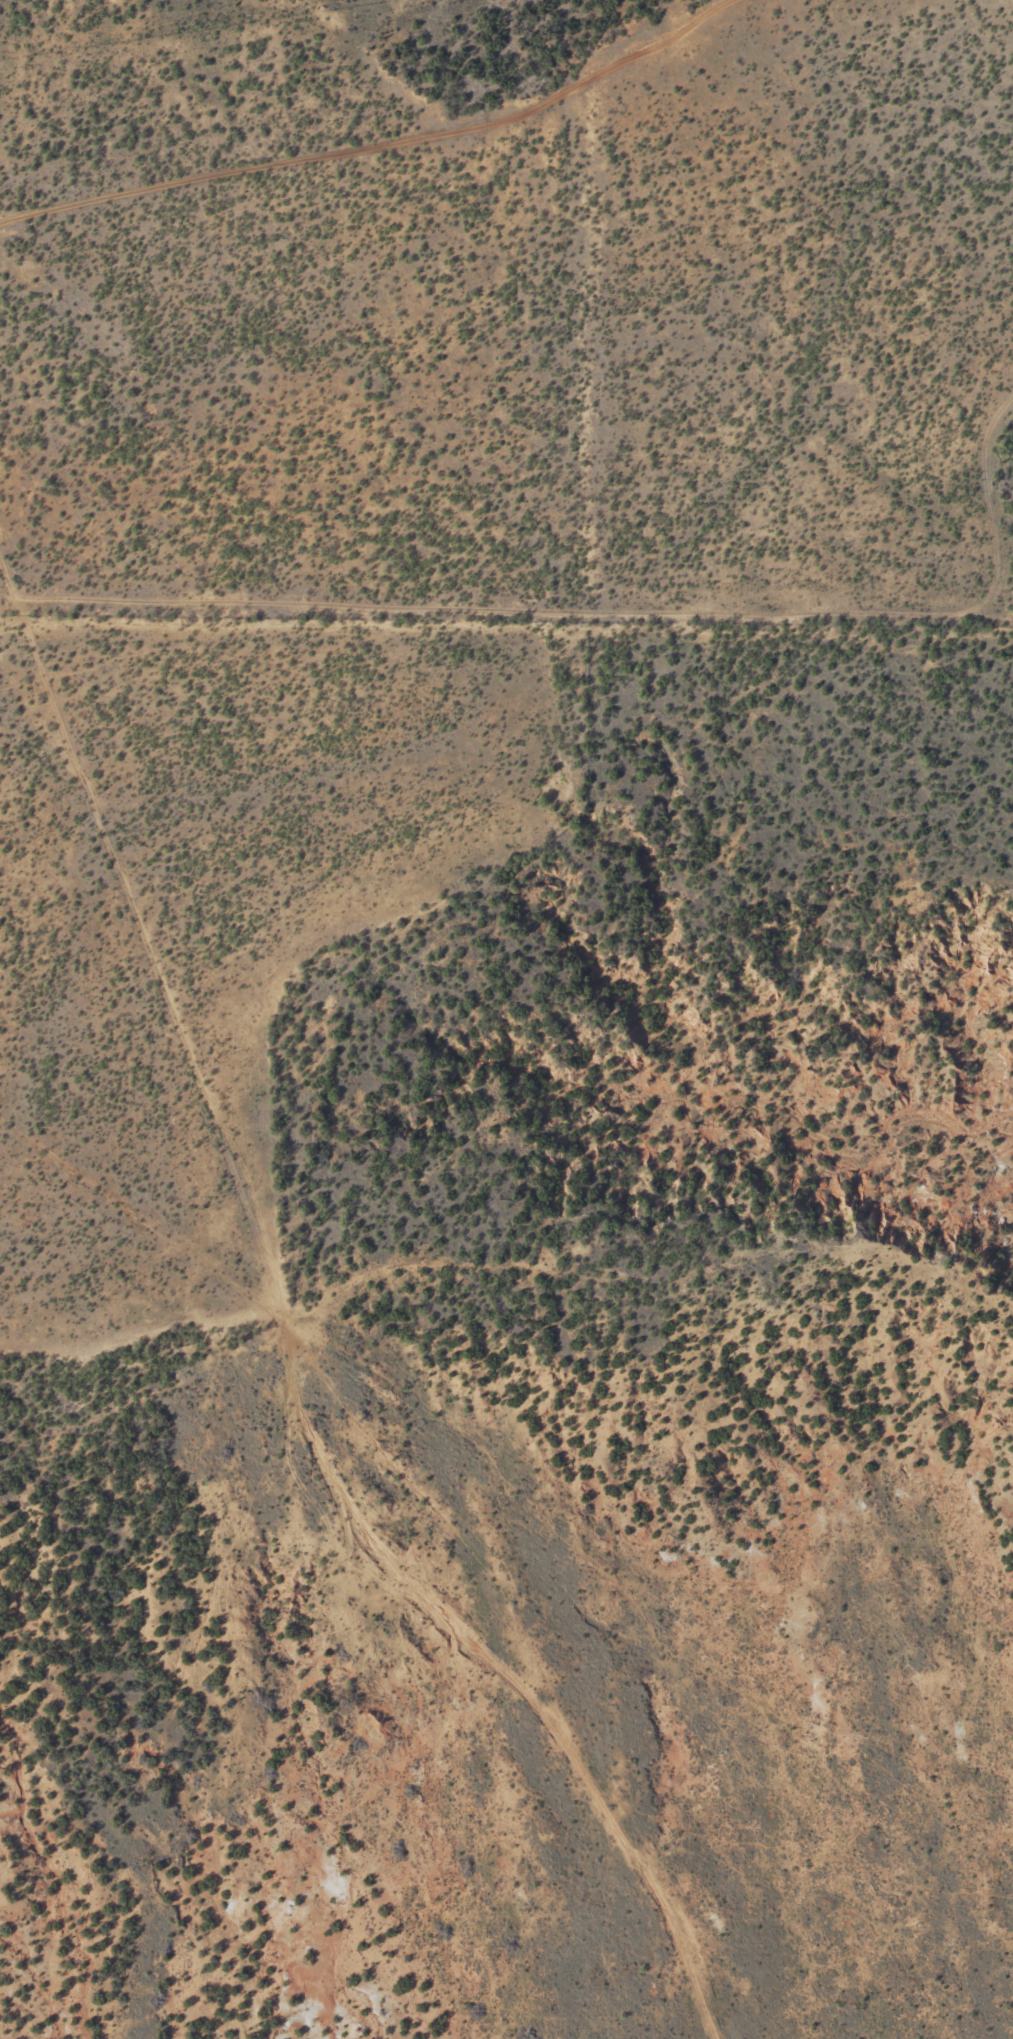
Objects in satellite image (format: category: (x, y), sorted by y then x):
road: (523, 643)

